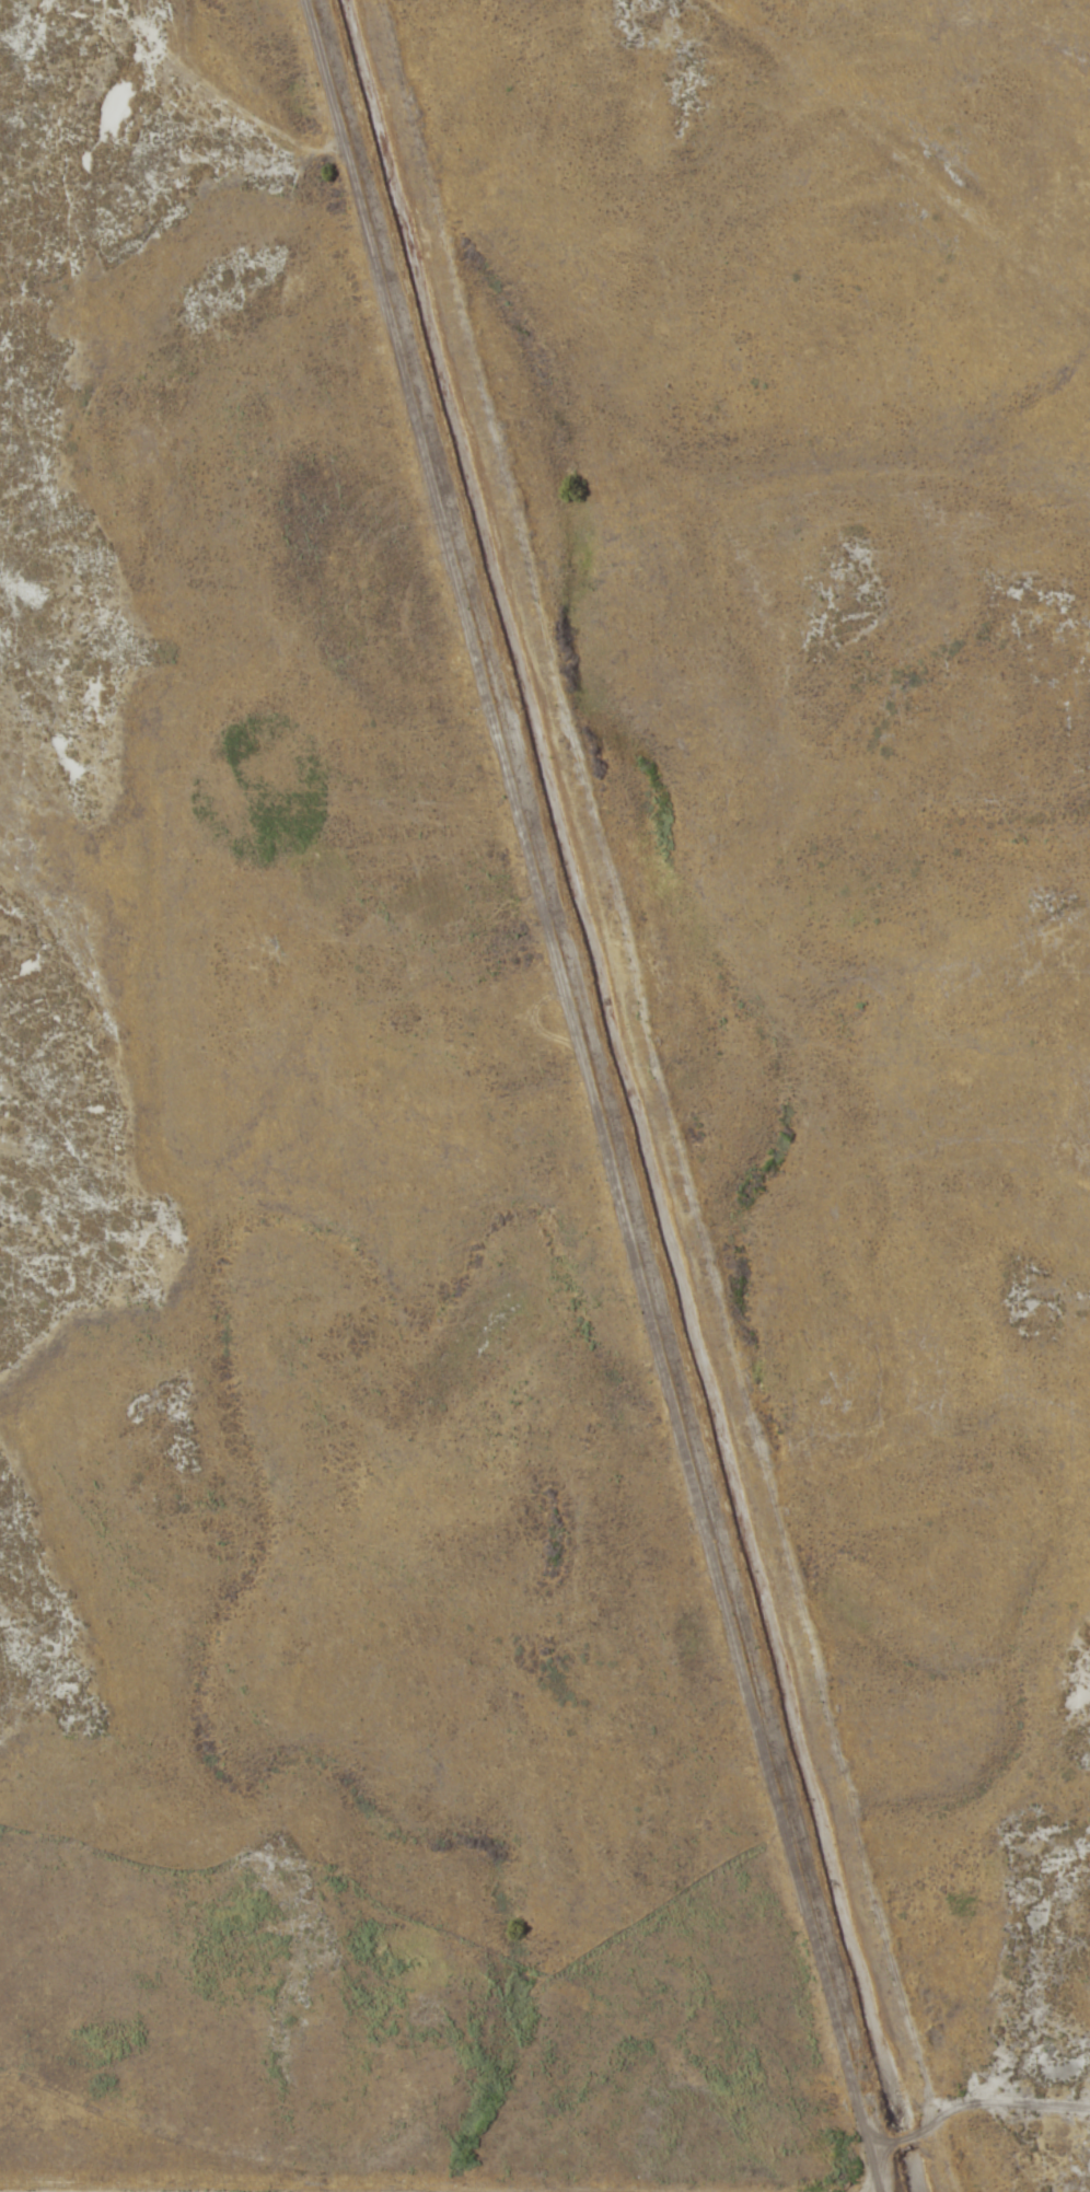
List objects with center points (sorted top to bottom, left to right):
road: (568, 1095)

